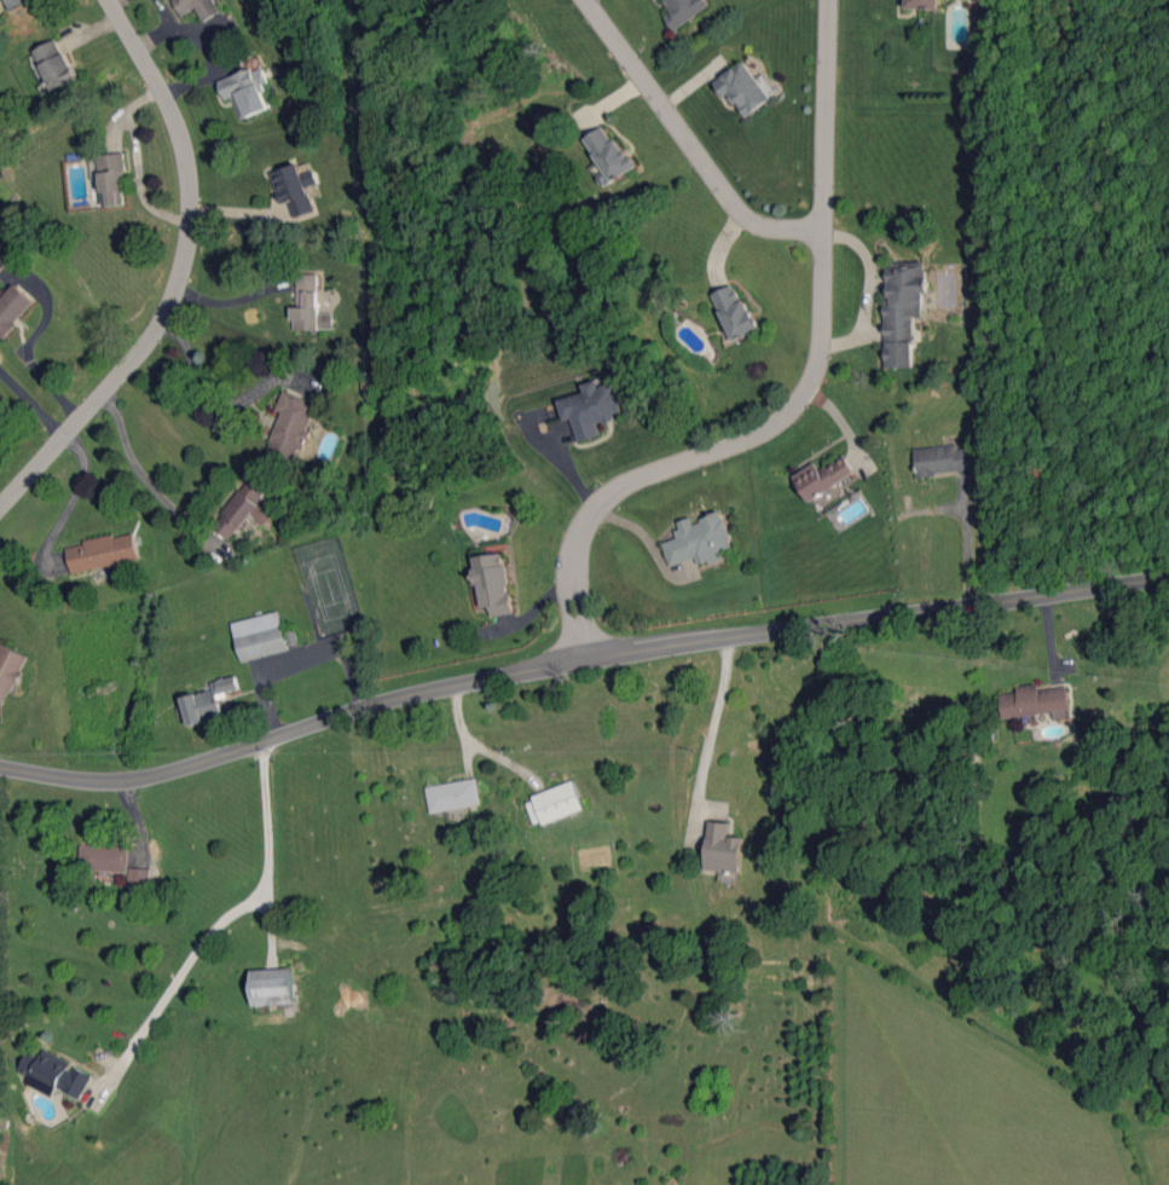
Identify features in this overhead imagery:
building: (18, 4)
building: (922, 4)
building: (199, 7)
building: (684, 10)
building: (54, 64)
building: (743, 89)
building: (247, 91)
road: (689, 141)
building: (609, 152)
road: (137, 162)
building: (112, 179)
building: (295, 187)
building: (2, 264)
road: (181, 276)
road: (235, 300)
building: (309, 306)
building: (13, 307)
building: (902, 311)
building: (735, 312)
road: (822, 336)
road: (213, 401)
road: (31, 405)
building: (592, 407)
building: (290, 427)
building: (941, 459)
road: (135, 467)
building: (823, 476)
road: (70, 503)
building: (242, 510)
building: (699, 541)
building: (103, 553)
building: (493, 583)
road: (568, 601)
road: (585, 601)
building: (260, 636)
road: (299, 664)
road: (579, 665)
building: (8, 670)
building: (1035, 700)
building: (208, 701)
road: (722, 723)
building: (453, 794)
building: (554, 803)
building: (723, 848)
building: (104, 857)
building: (139, 877)
road: (222, 921)
building: (273, 985)
building: (56, 1073)

